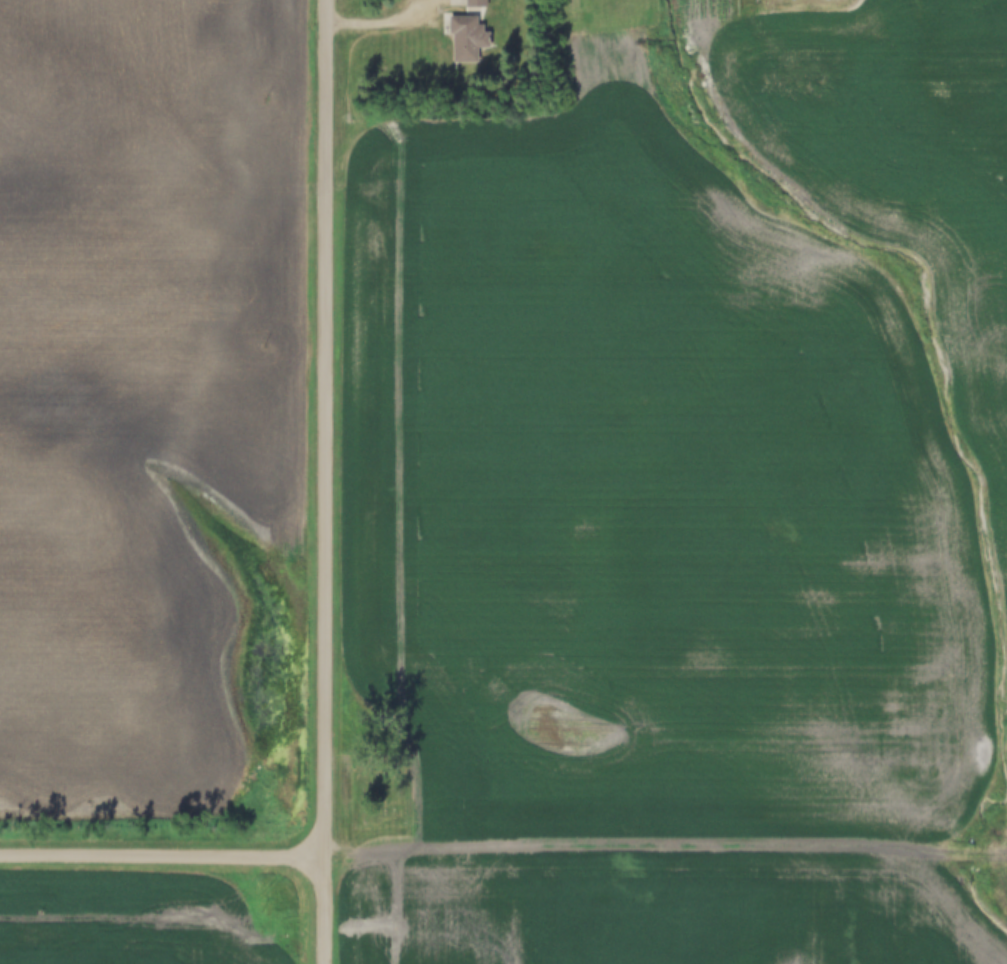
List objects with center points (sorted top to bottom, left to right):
building: (476, 4)
road: (377, 21)
building: (467, 40)
road: (327, 481)
road: (395, 835)
road: (164, 853)

